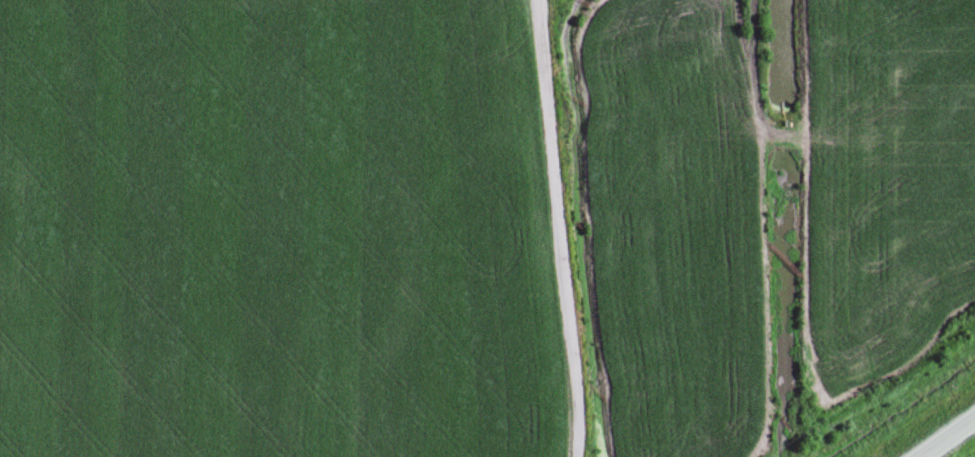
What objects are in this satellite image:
road: (733, 4)
road: (560, 228)
road: (970, 454)

